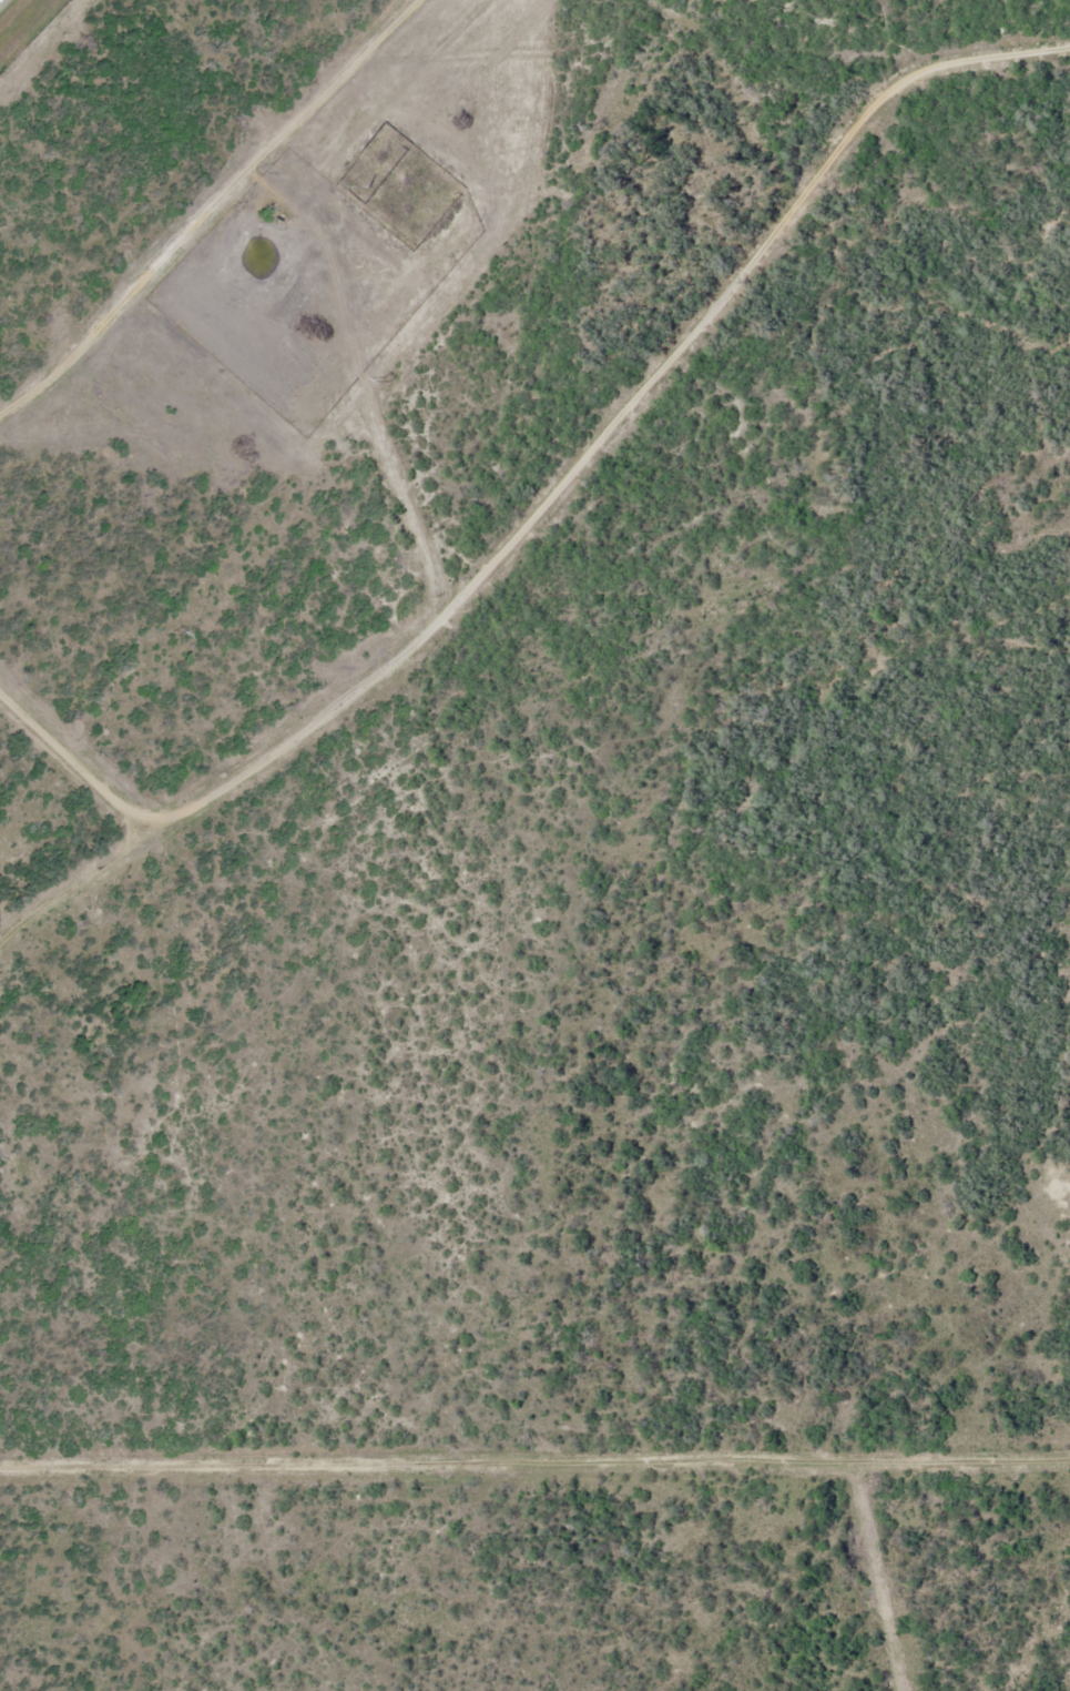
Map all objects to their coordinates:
power tower: (597, 125)
road: (196, 216)
power tower: (386, 378)
road: (534, 502)
power tower: (175, 631)
road: (47, 802)
road: (534, 1432)

